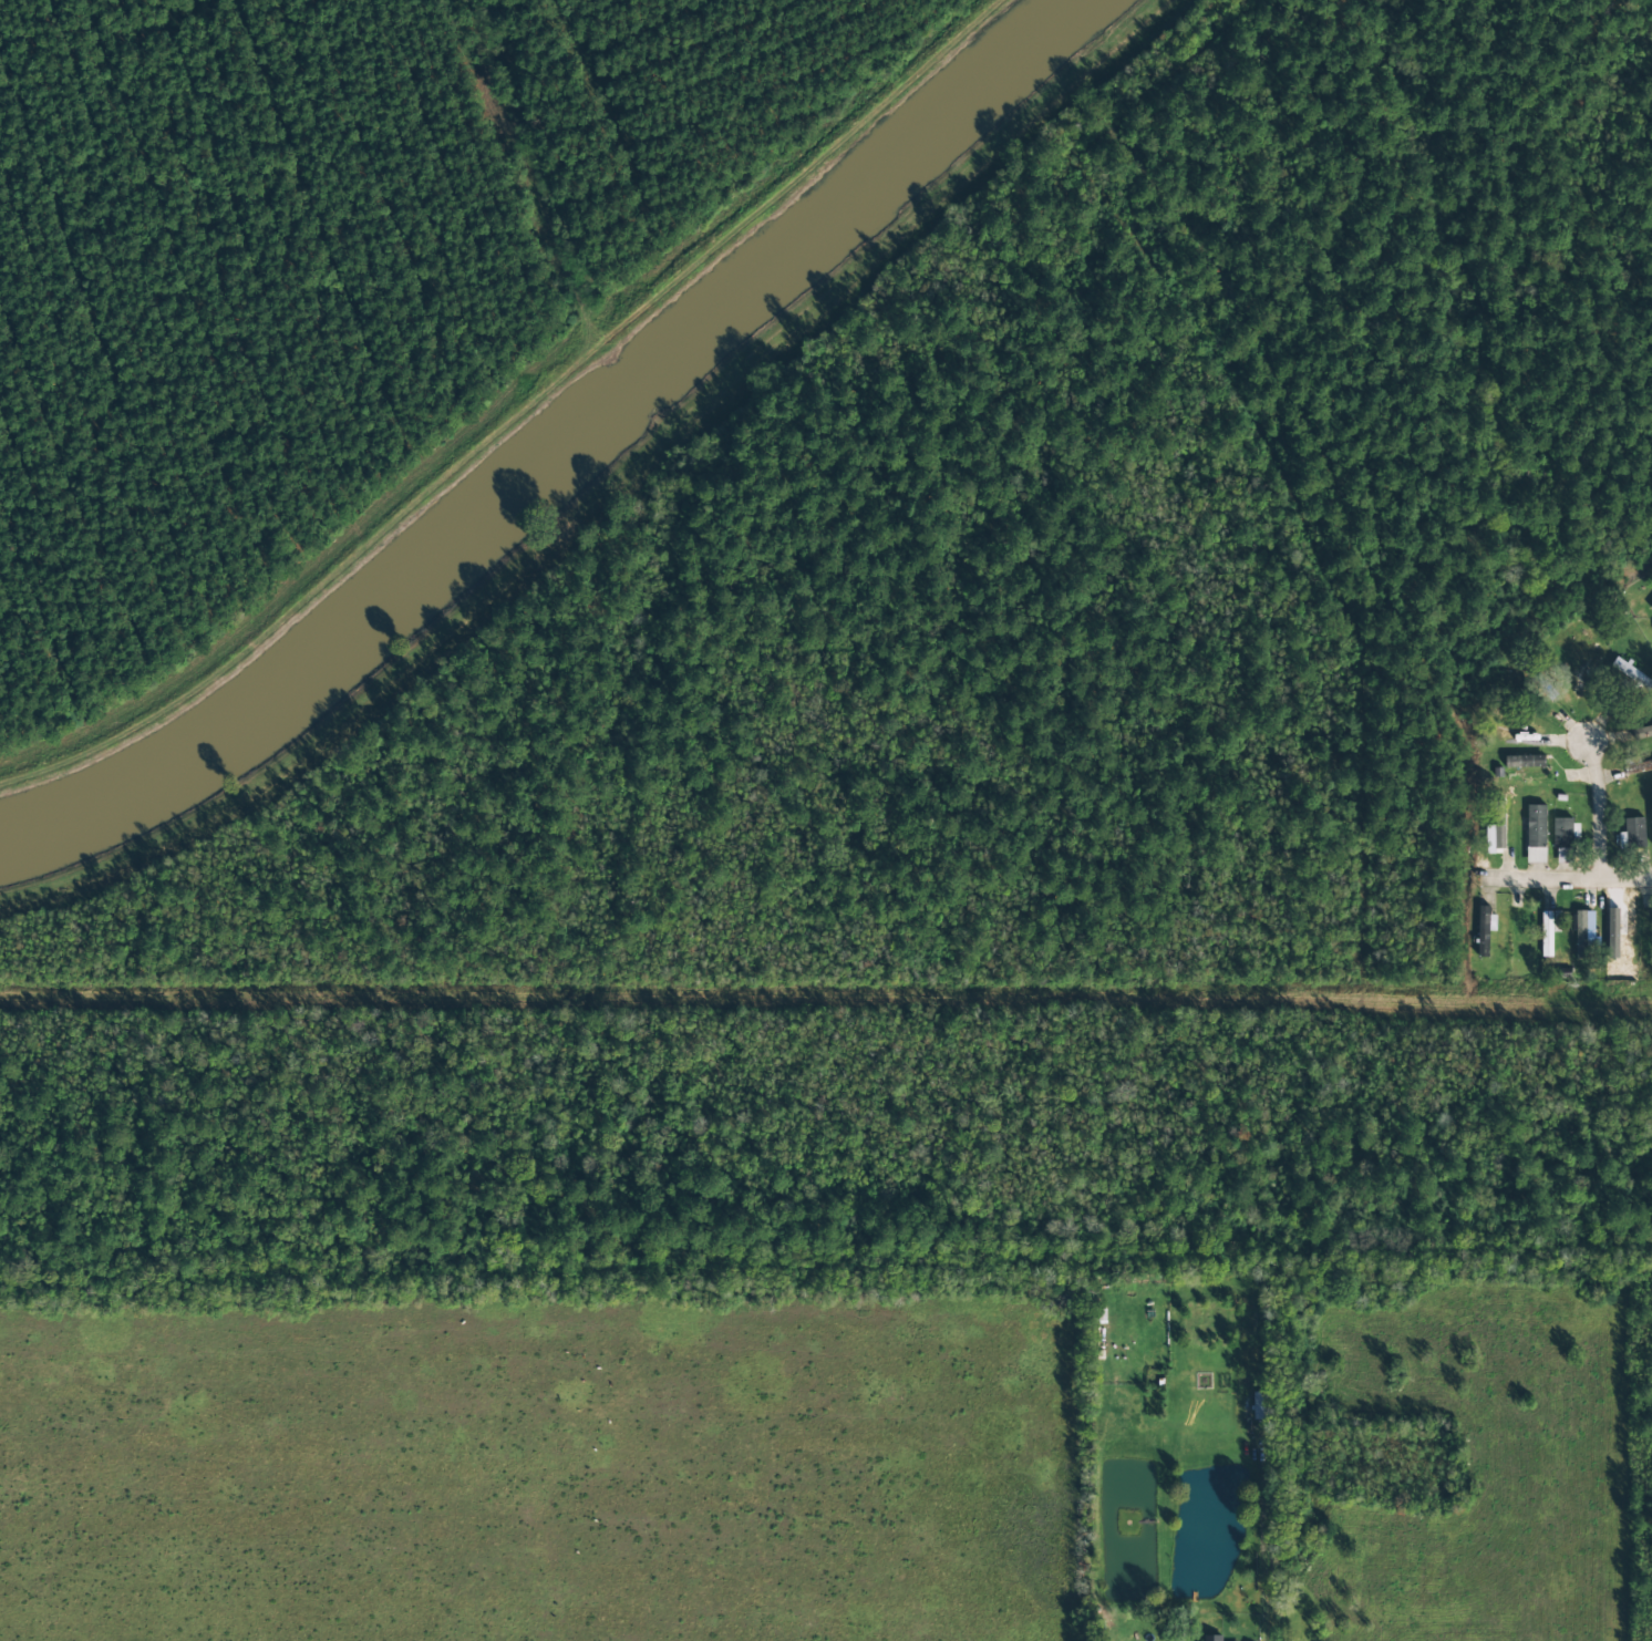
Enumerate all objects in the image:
building: (1651, 607)
building: (1630, 673)
building: (1640, 767)
building: (1651, 809)
road: (1599, 811)
building: (1536, 826)
building: (1562, 833)
building: (1634, 833)
road: (1567, 878)
building: (1484, 930)
building: (1582, 937)
building: (1261, 1406)
building: (1212, 1638)

